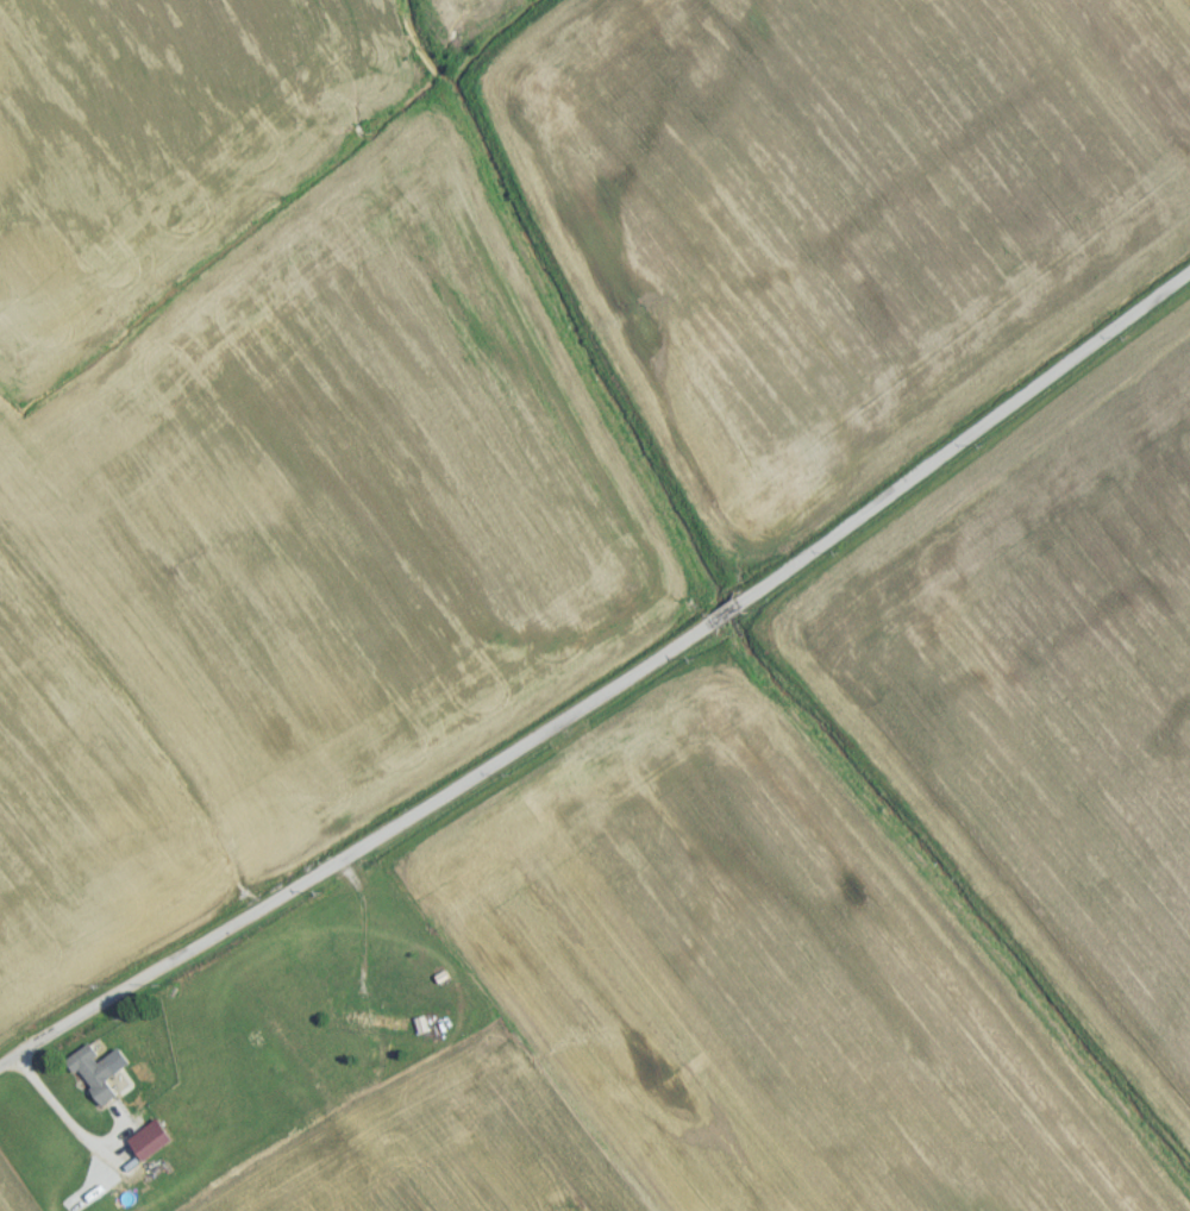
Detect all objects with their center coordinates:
road: (609, 699)
building: (378, 1028)
building: (98, 1081)
road: (63, 1115)
building: (154, 1147)

